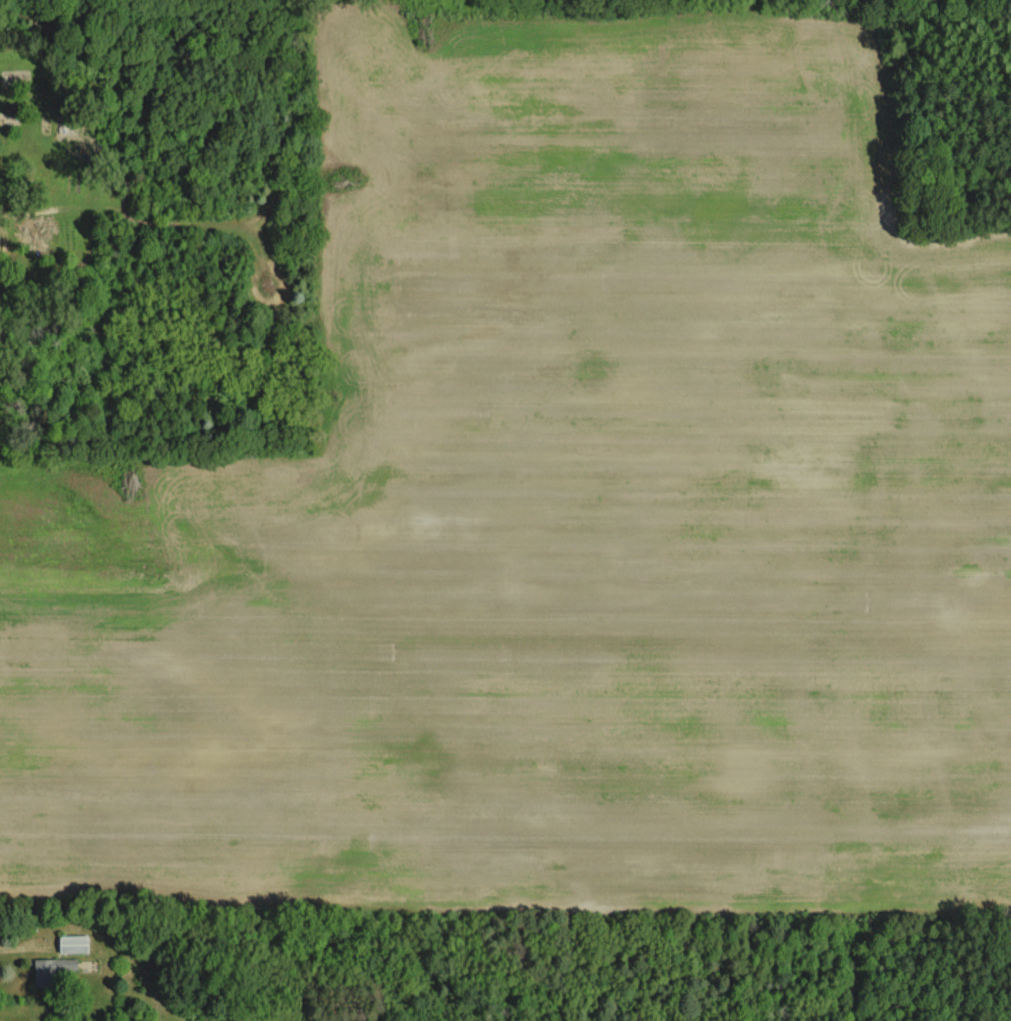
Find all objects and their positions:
road: (22, 947)
building: (55, 967)

